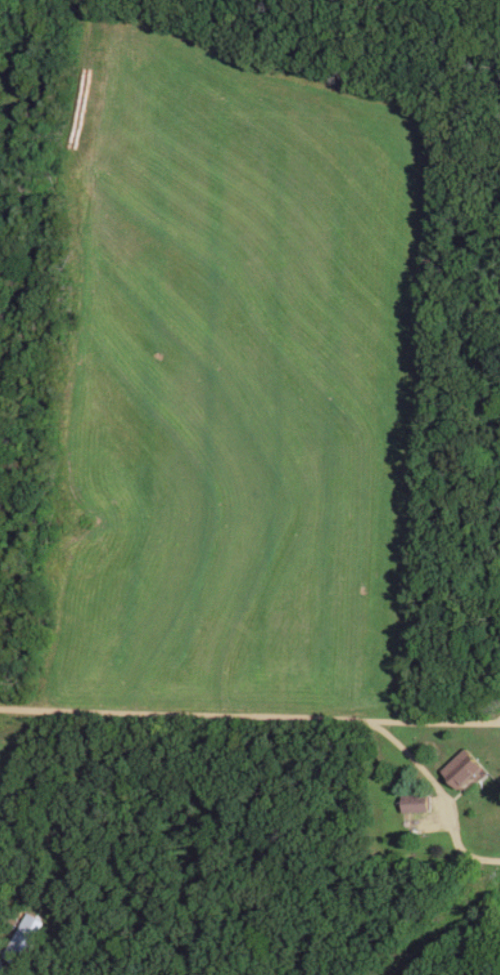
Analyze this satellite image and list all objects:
road: (188, 714)
road: (489, 767)
building: (463, 770)
building: (415, 805)
building: (22, 945)

